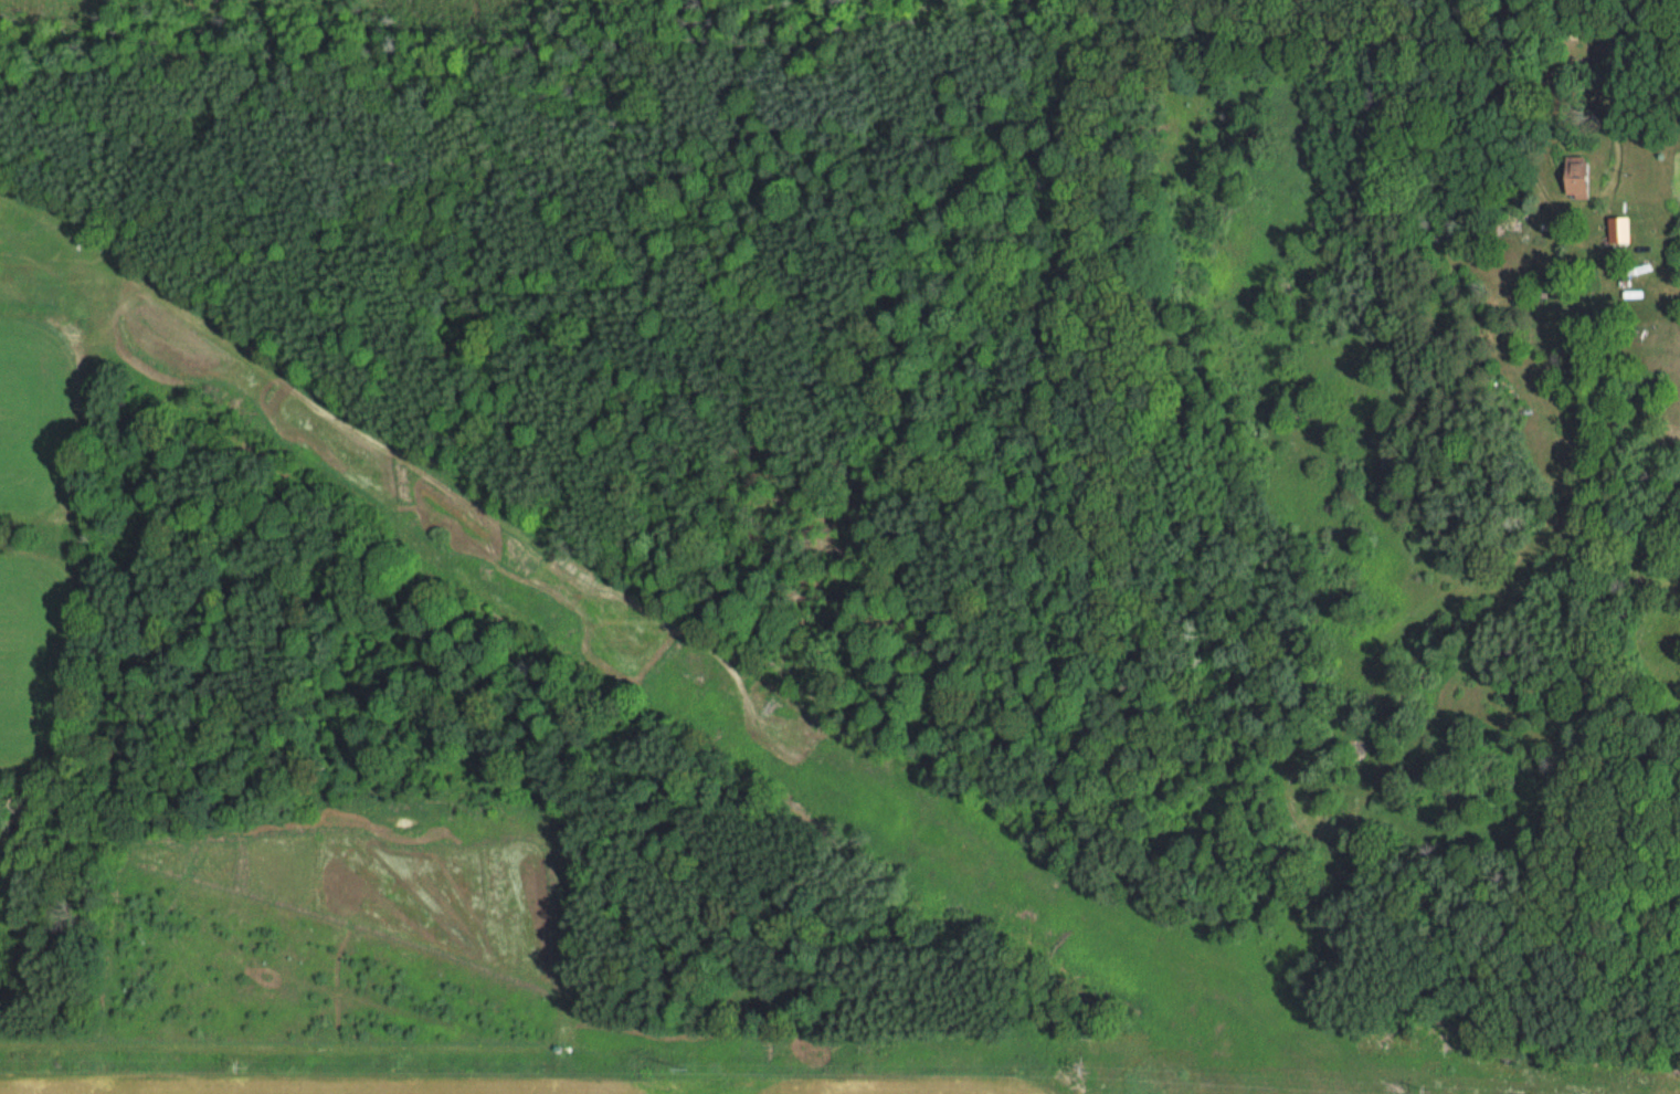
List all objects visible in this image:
road: (1641, 32)
building: (1574, 176)
road: (1593, 199)
building: (1617, 228)
power tower: (244, 1067)
power tower: (668, 1070)
power tower: (1080, 1071)
power tower: (1427, 1090)

